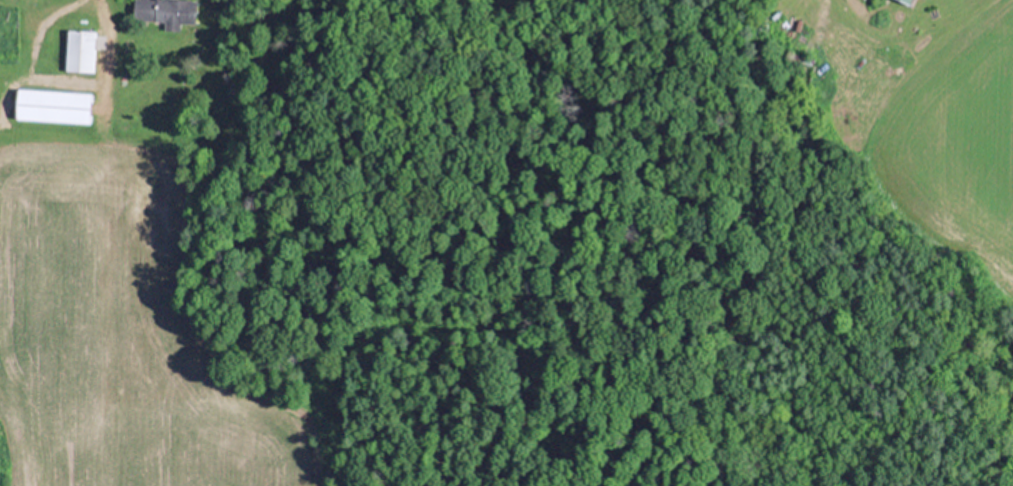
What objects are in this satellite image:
building: (22, 0)
building: (165, 11)
building: (79, 50)
building: (52, 105)

